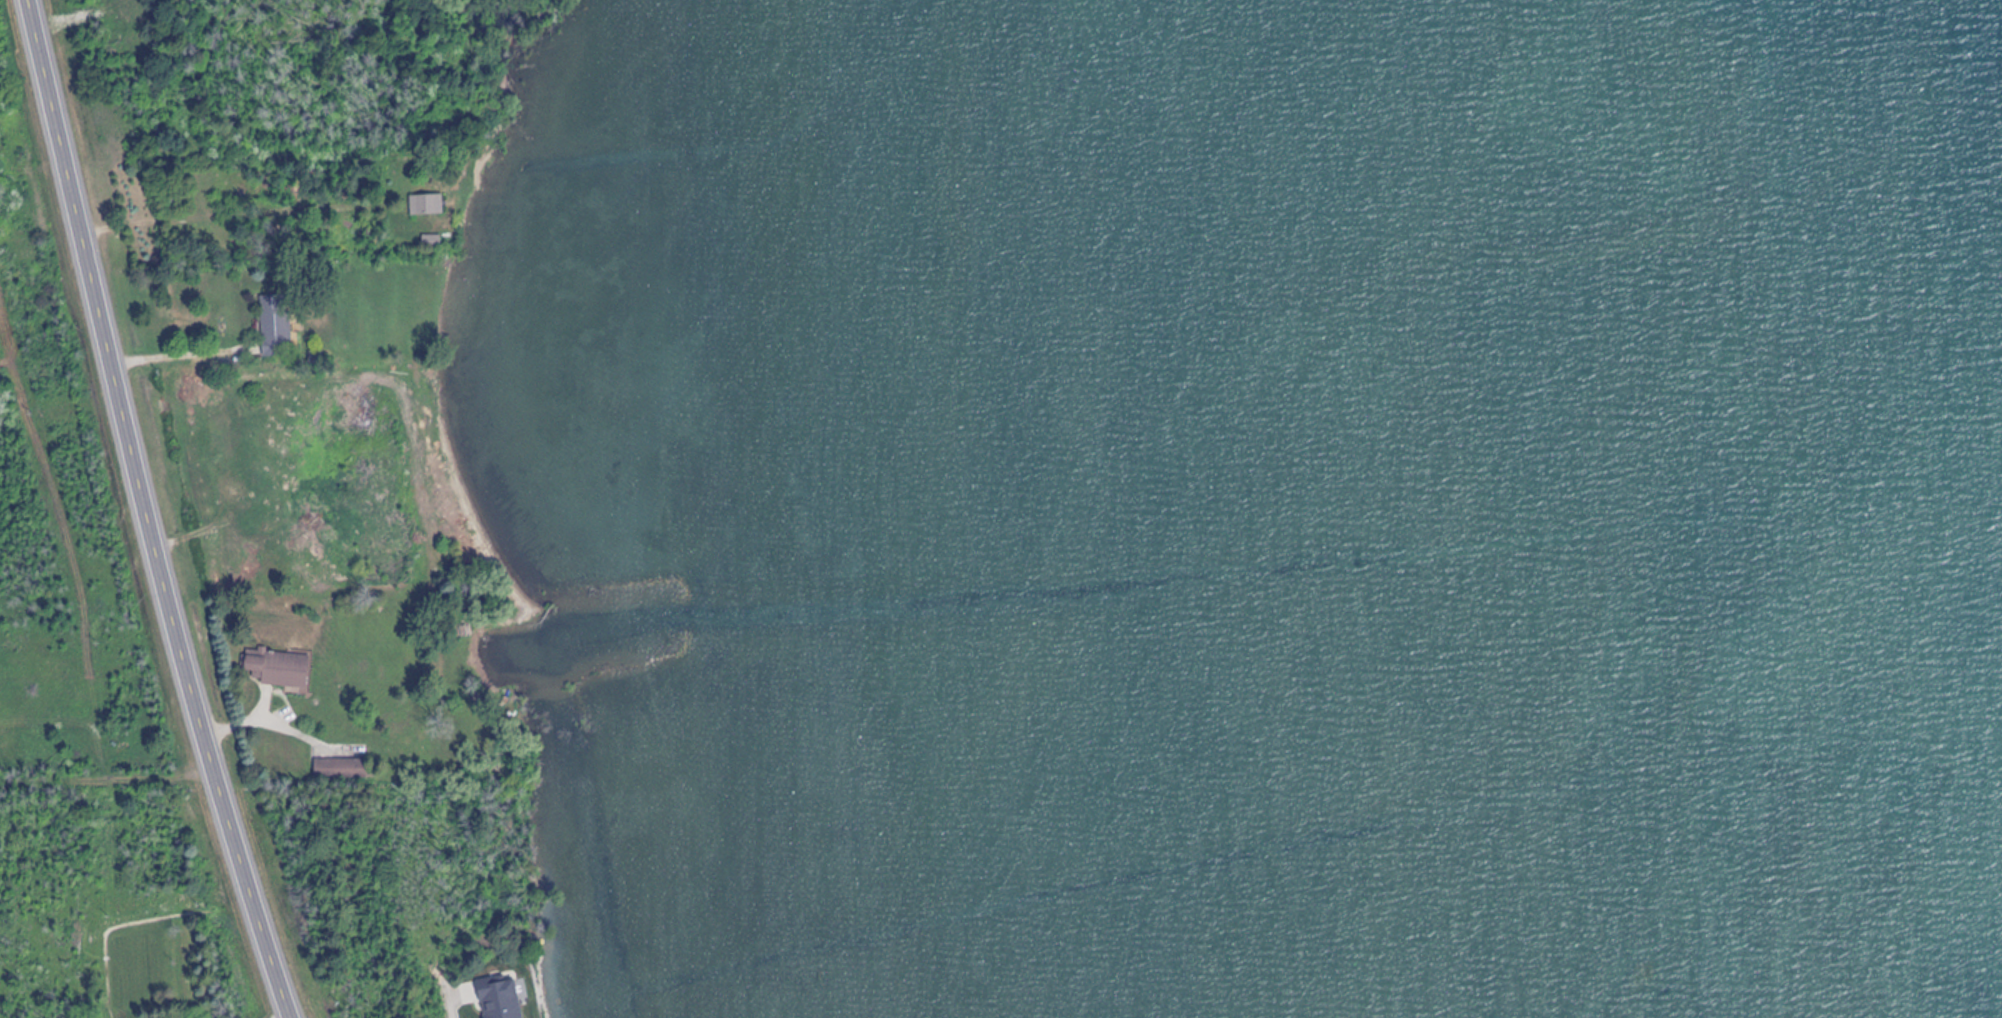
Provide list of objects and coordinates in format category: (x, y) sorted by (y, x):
building: (429, 204)
building: (436, 238)
building: (278, 325)
road: (149, 511)
building: (280, 667)
building: (342, 769)
road: (105, 779)

